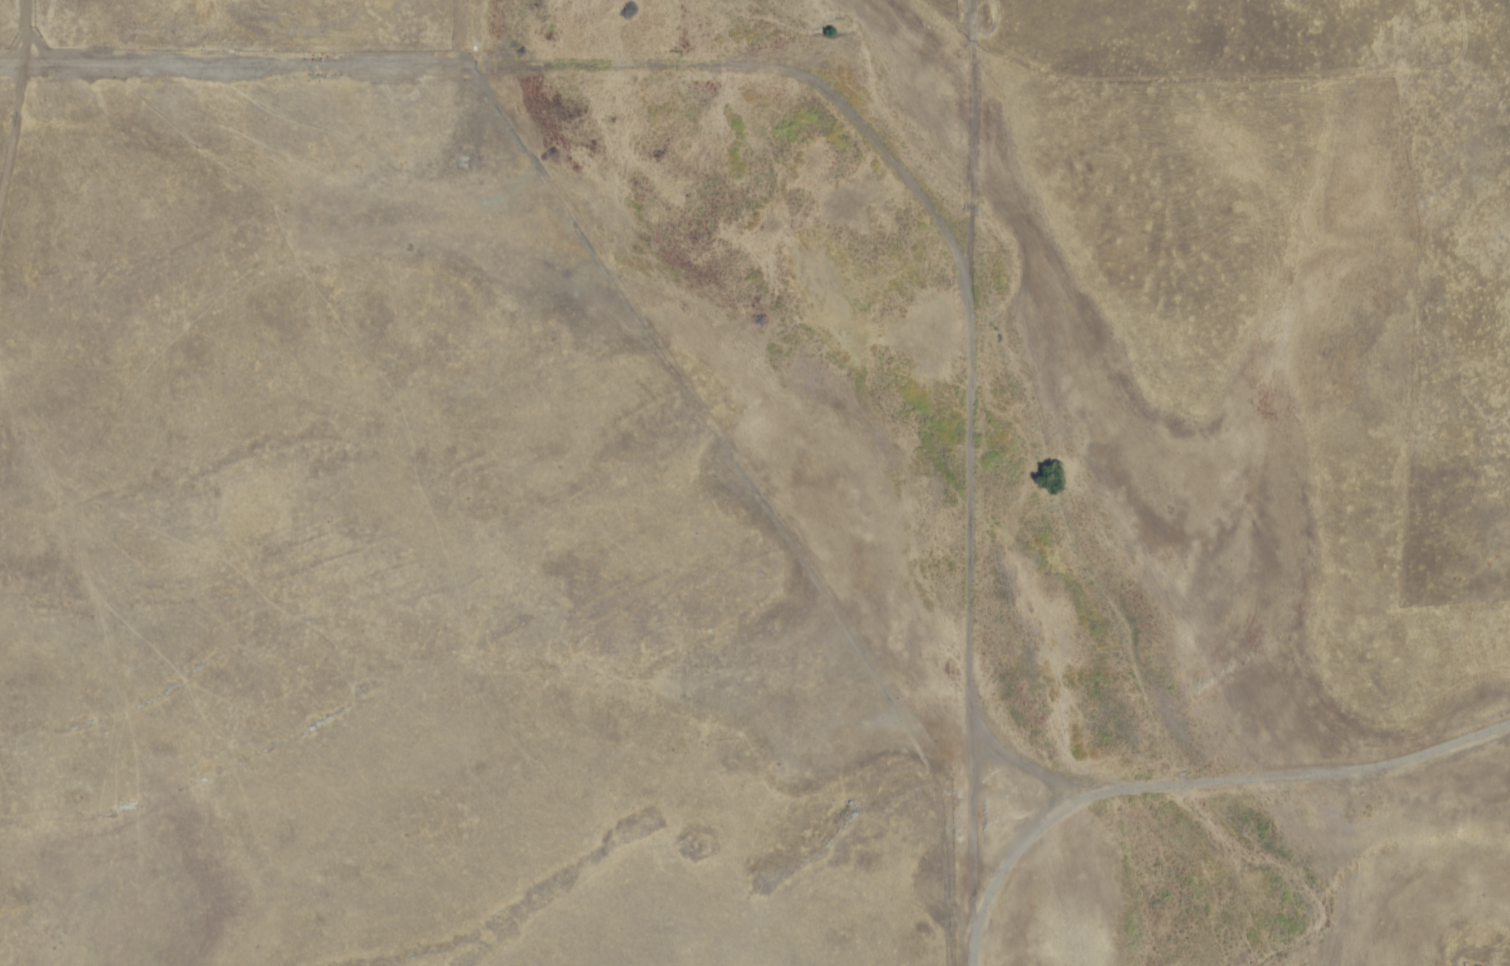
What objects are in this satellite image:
road: (957, 25)
road: (206, 64)
crop: (281, 452)
road: (1193, 783)

